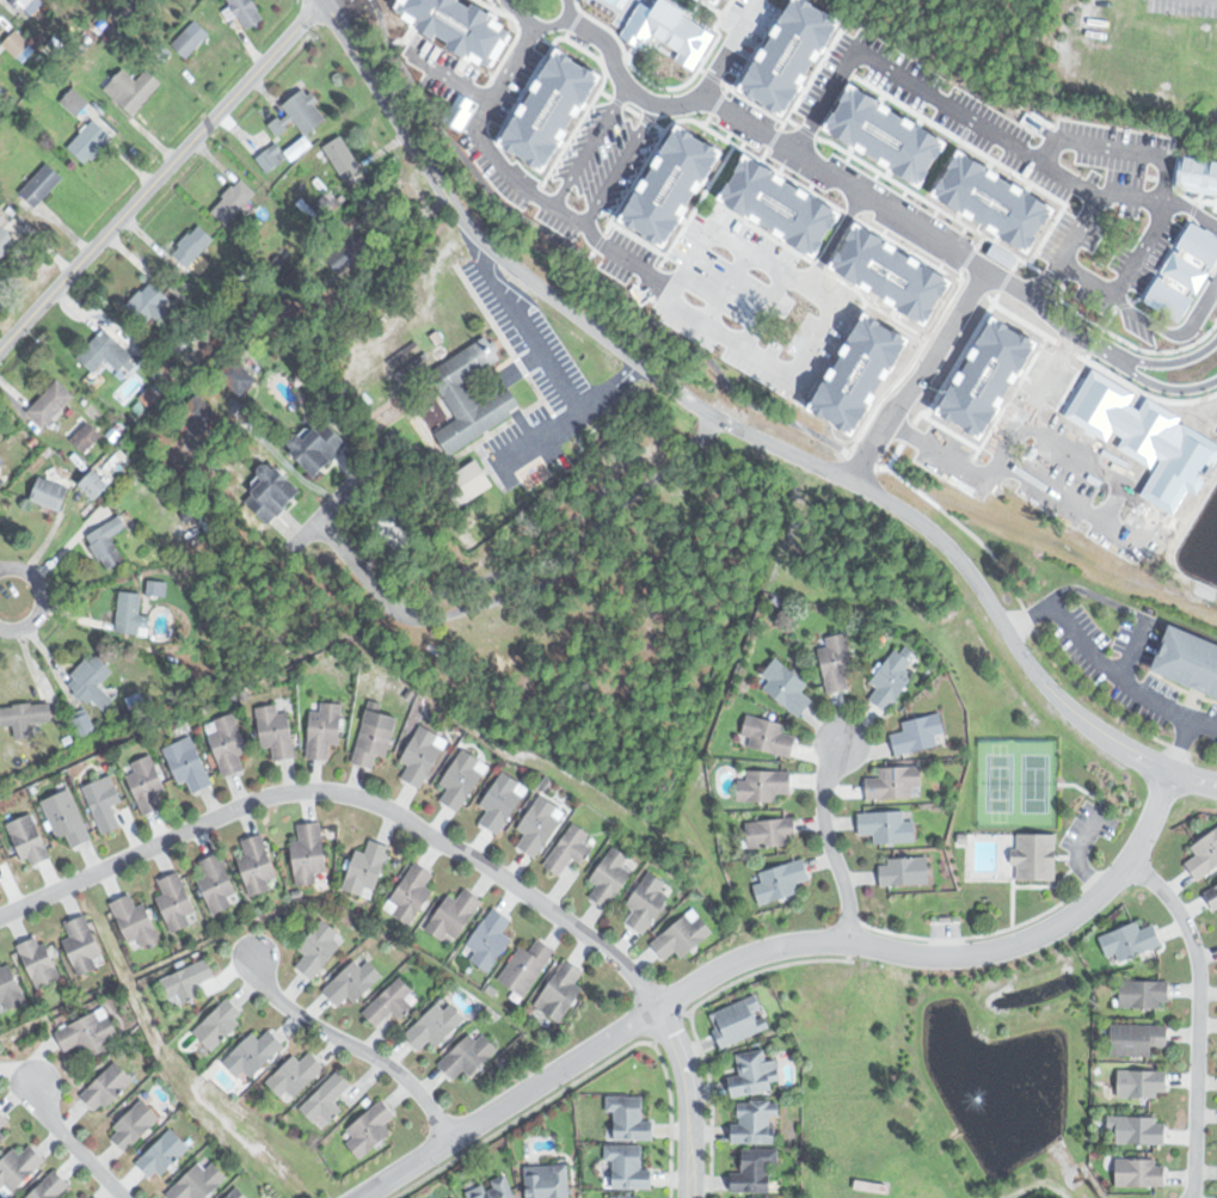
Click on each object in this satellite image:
building: (30, 2)
building: (547, 8)
building: (414, 10)
building: (680, 10)
building: (247, 12)
building: (758, 27)
road: (529, 29)
building: (6, 42)
building: (186, 44)
building: (591, 53)
building: (448, 54)
building: (689, 73)
building: (133, 88)
building: (867, 90)
building: (478, 100)
building: (75, 102)
building: (302, 113)
building: (823, 118)
road: (966, 119)
building: (91, 142)
building: (509, 146)
building: (300, 147)
building: (772, 150)
road: (781, 155)
building: (271, 158)
building: (344, 159)
building: (955, 159)
building: (1196, 172)
road: (160, 173)
building: (42, 184)
building: (721, 186)
road: (586, 189)
building: (545, 193)
building: (234, 201)
building: (664, 205)
building: (897, 211)
building: (1056, 234)
building: (6, 241)
building: (193, 245)
building: (844, 248)
building: (356, 258)
building: (779, 284)
building: (148, 301)
building: (720, 324)
building: (958, 338)
road: (539, 346)
building: (110, 354)
building: (240, 376)
building: (891, 379)
building: (473, 395)
road: (694, 403)
building: (53, 404)
building: (201, 416)
building: (835, 416)
building: (1043, 425)
building: (322, 446)
building: (2, 462)
building: (2, 483)
building: (469, 483)
building: (97, 485)
building: (276, 492)
building: (51, 494)
building: (1151, 504)
building: (1207, 514)
building: (109, 543)
road: (534, 584)
road: (1096, 596)
road: (43, 598)
building: (130, 614)
road: (1132, 646)
building: (1186, 659)
building: (838, 663)
road: (1100, 663)
building: (93, 681)
building: (893, 681)
building: (787, 688)
building: (26, 717)
building: (325, 730)
building: (276, 732)
building: (375, 735)
building: (920, 735)
building: (769, 737)
building: (228, 744)
road: (1179, 744)
building: (423, 756)
road: (1142, 758)
building: (189, 764)
road: (1193, 776)
building: (463, 780)
building: (896, 784)
building: (147, 785)
building: (764, 786)
road: (350, 795)
building: (502, 803)
building: (104, 804)
building: (67, 818)
building: (540, 827)
building: (889, 828)
building: (773, 833)
building: (30, 841)
road: (828, 842)
building: (570, 849)
building: (309, 853)
building: (1201, 853)
building: (0, 856)
building: (1037, 858)
building: (258, 864)
building: (368, 867)
building: (905, 873)
building: (613, 877)
building: (780, 881)
building: (0, 883)
building: (217, 883)
building: (412, 892)
building: (1209, 896)
building: (176, 901)
building: (647, 902)
building: (454, 915)
building: (135, 921)
building: (683, 936)
building: (490, 939)
building: (1124, 941)
building: (82, 944)
building: (319, 947)
road: (774, 948)
building: (41, 962)
building: (527, 965)
building: (186, 981)
building: (355, 981)
building: (10, 988)
building: (561, 990)
building: (1138, 994)
building: (392, 1001)
road: (1198, 1016)
building: (740, 1019)
building: (221, 1022)
building: (436, 1024)
building: (87, 1031)
building: (1130, 1040)
road: (350, 1045)
building: (254, 1052)
building: (468, 1055)
building: (757, 1071)
building: (296, 1074)
building: (1136, 1085)
building: (107, 1086)
building: (327, 1098)
road: (690, 1099)
building: (631, 1117)
building: (2, 1118)
building: (758, 1122)
building: (135, 1124)
building: (370, 1128)
building: (1131, 1131)
building: (2, 1137)
road: (70, 1143)
building: (164, 1154)
building: (629, 1165)
building: (18, 1168)
building: (757, 1171)
building: (1133, 1174)
building: (199, 1181)
building: (549, 1182)
building: (50, 1186)
building: (493, 1188)
building: (238, 1194)
building: (622, 1196)

